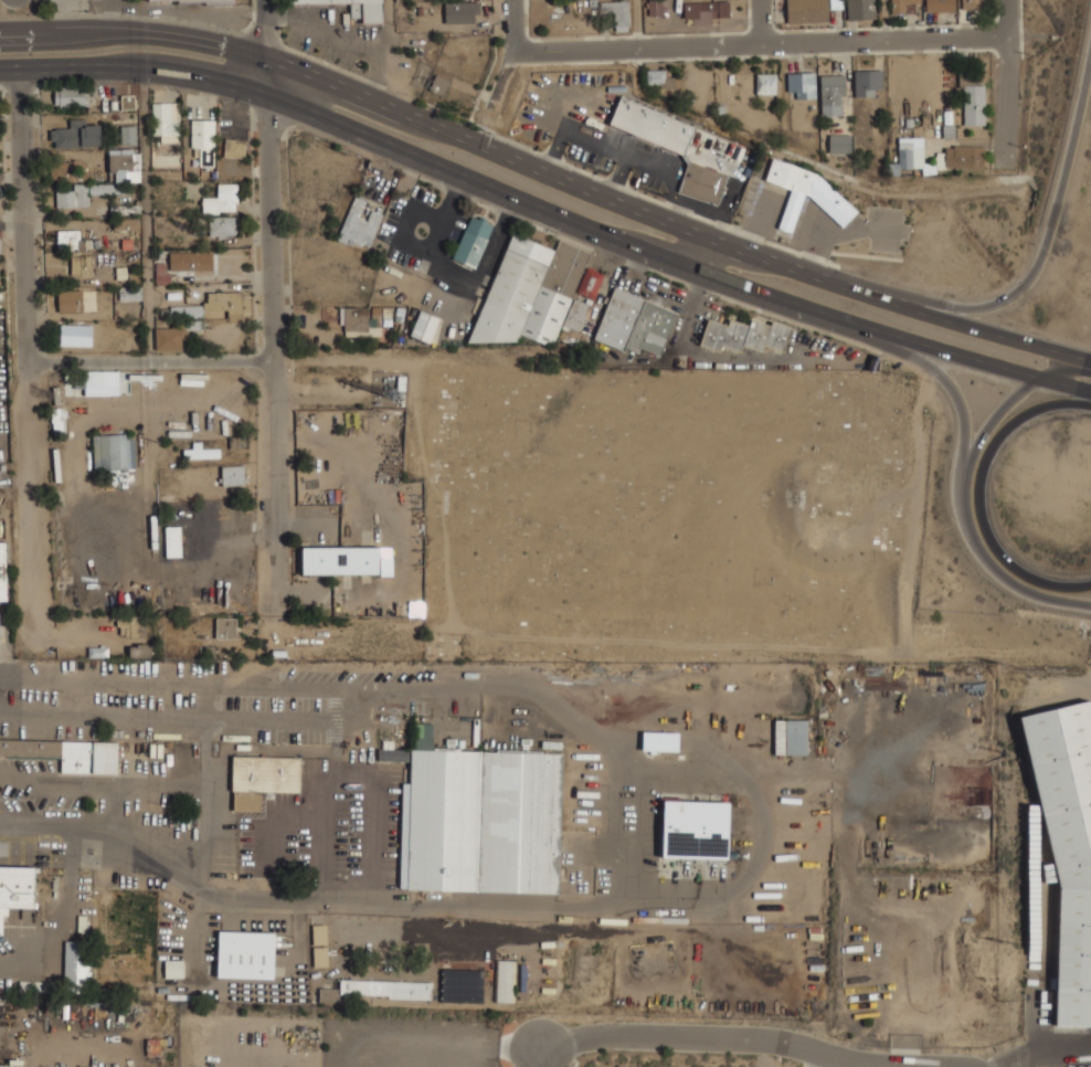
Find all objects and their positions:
building: (191, 0)
building: (974, 3)
building: (905, 6)
building: (940, 6)
building: (655, 7)
building: (357, 9)
building: (706, 9)
building: (860, 9)
building: (460, 10)
building: (809, 10)
building: (618, 12)
road: (140, 17)
road: (883, 20)
road: (761, 22)
road: (512, 25)
road: (761, 44)
road: (265, 49)
road: (389, 53)
building: (659, 77)
road: (1007, 81)
building: (765, 82)
building: (868, 82)
building: (438, 84)
building: (802, 84)
building: (833, 94)
building: (70, 96)
building: (973, 99)
building: (127, 102)
road: (705, 116)
building: (165, 120)
building: (652, 124)
building: (77, 134)
building: (128, 134)
building: (203, 139)
building: (839, 142)
building: (235, 147)
building: (913, 152)
building: (964, 156)
building: (125, 165)
building: (62, 170)
road: (547, 171)
building: (702, 181)
building: (805, 191)
building: (221, 198)
road: (146, 212)
road: (547, 212)
building: (125, 223)
building: (222, 225)
building: (359, 225)
building: (68, 239)
building: (473, 241)
road: (708, 254)
building: (184, 262)
building: (81, 263)
building: (590, 283)
road: (1016, 290)
building: (130, 292)
building: (530, 292)
building: (70, 299)
building: (223, 302)
building: (187, 308)
building: (575, 315)
building: (354, 321)
building: (635, 324)
building: (424, 326)
building: (76, 335)
building: (170, 335)
building: (745, 336)
road: (888, 346)
road: (273, 348)
road: (24, 352)
road: (324, 357)
road: (1089, 362)
building: (102, 381)
building: (114, 452)
building: (201, 452)
building: (233, 475)
road: (965, 488)
road: (984, 494)
park: (668, 513)
building: (343, 560)
building: (2, 572)
building: (133, 626)
building: (225, 627)
building: (140, 651)
building: (97, 652)
building: (791, 737)
building: (660, 741)
building: (67, 753)
building: (393, 754)
building: (264, 778)
road: (208, 790)
building: (486, 820)
building: (696, 828)
building: (1067, 842)
building: (15, 889)
building: (320, 945)
building: (246, 954)
building: (76, 966)
building: (174, 969)
building: (505, 981)
building: (38, 986)
building: (463, 986)
building: (377, 990)
road: (710, 1036)
road: (765, 1053)

